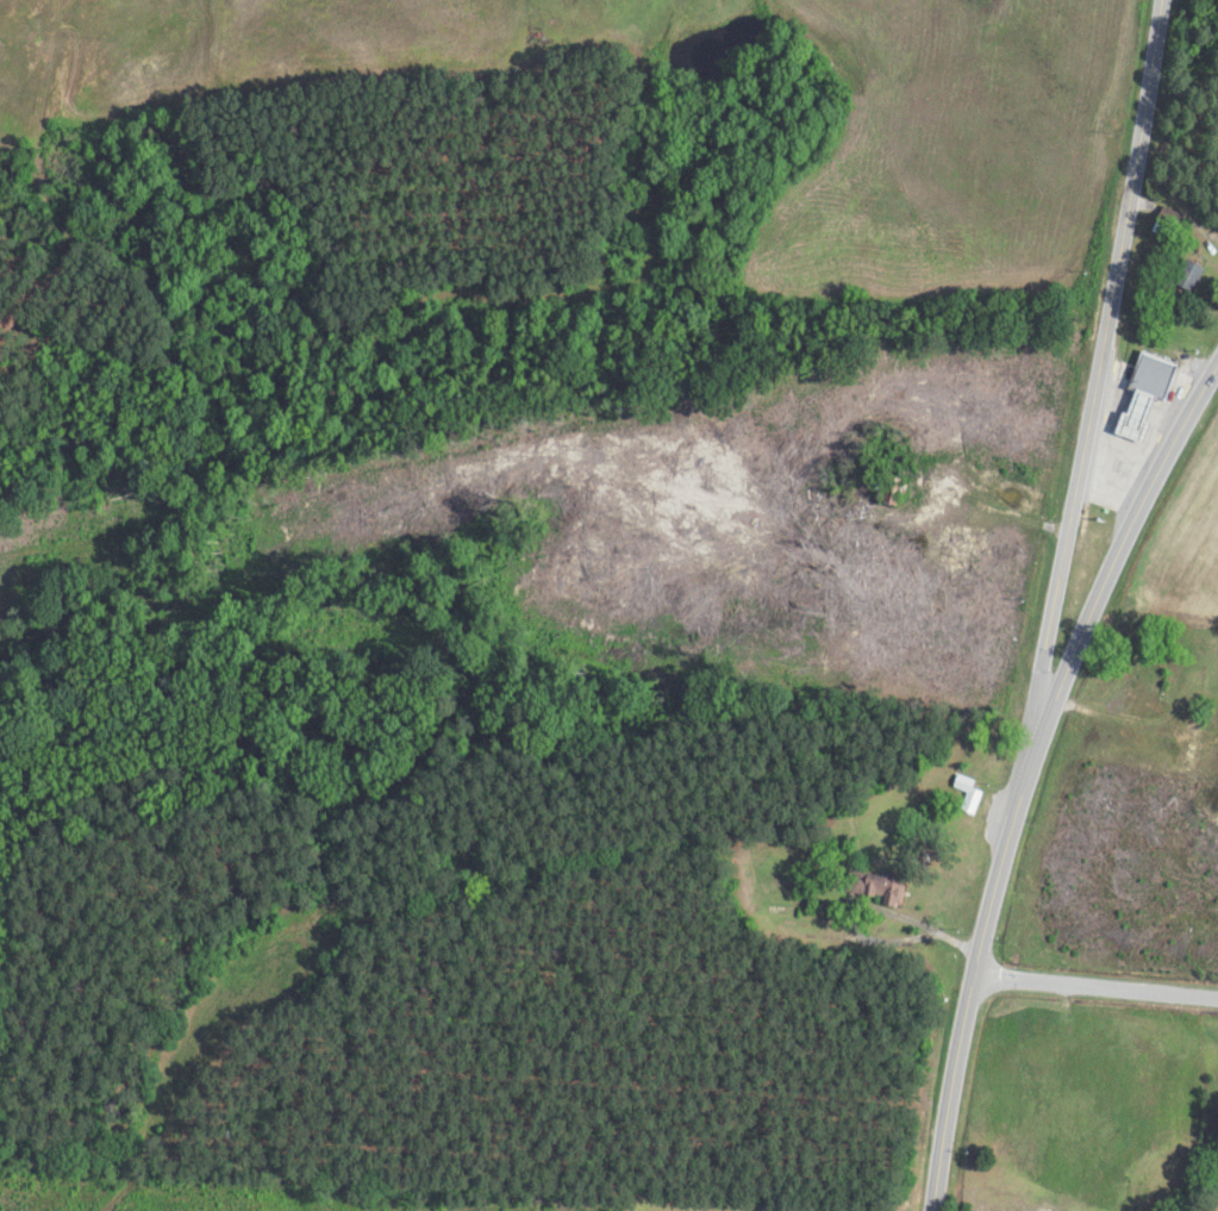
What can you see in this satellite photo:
building: (1169, 217)
building: (1191, 275)
road: (1100, 388)
building: (1144, 393)
road: (1111, 569)
building: (969, 794)
building: (880, 887)
road: (1098, 986)
road: (974, 992)

